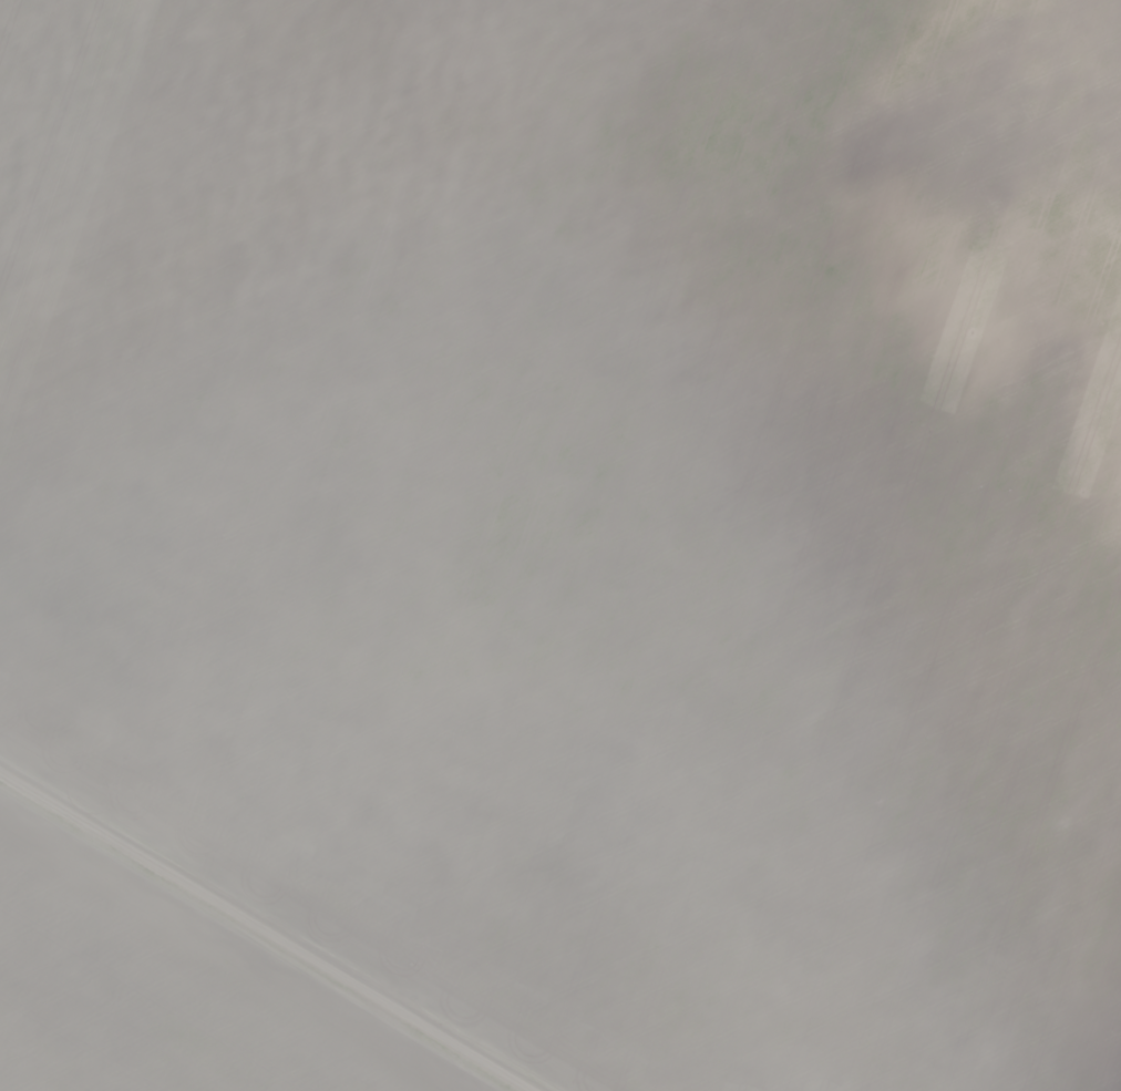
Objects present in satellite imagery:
road: (263, 933)

